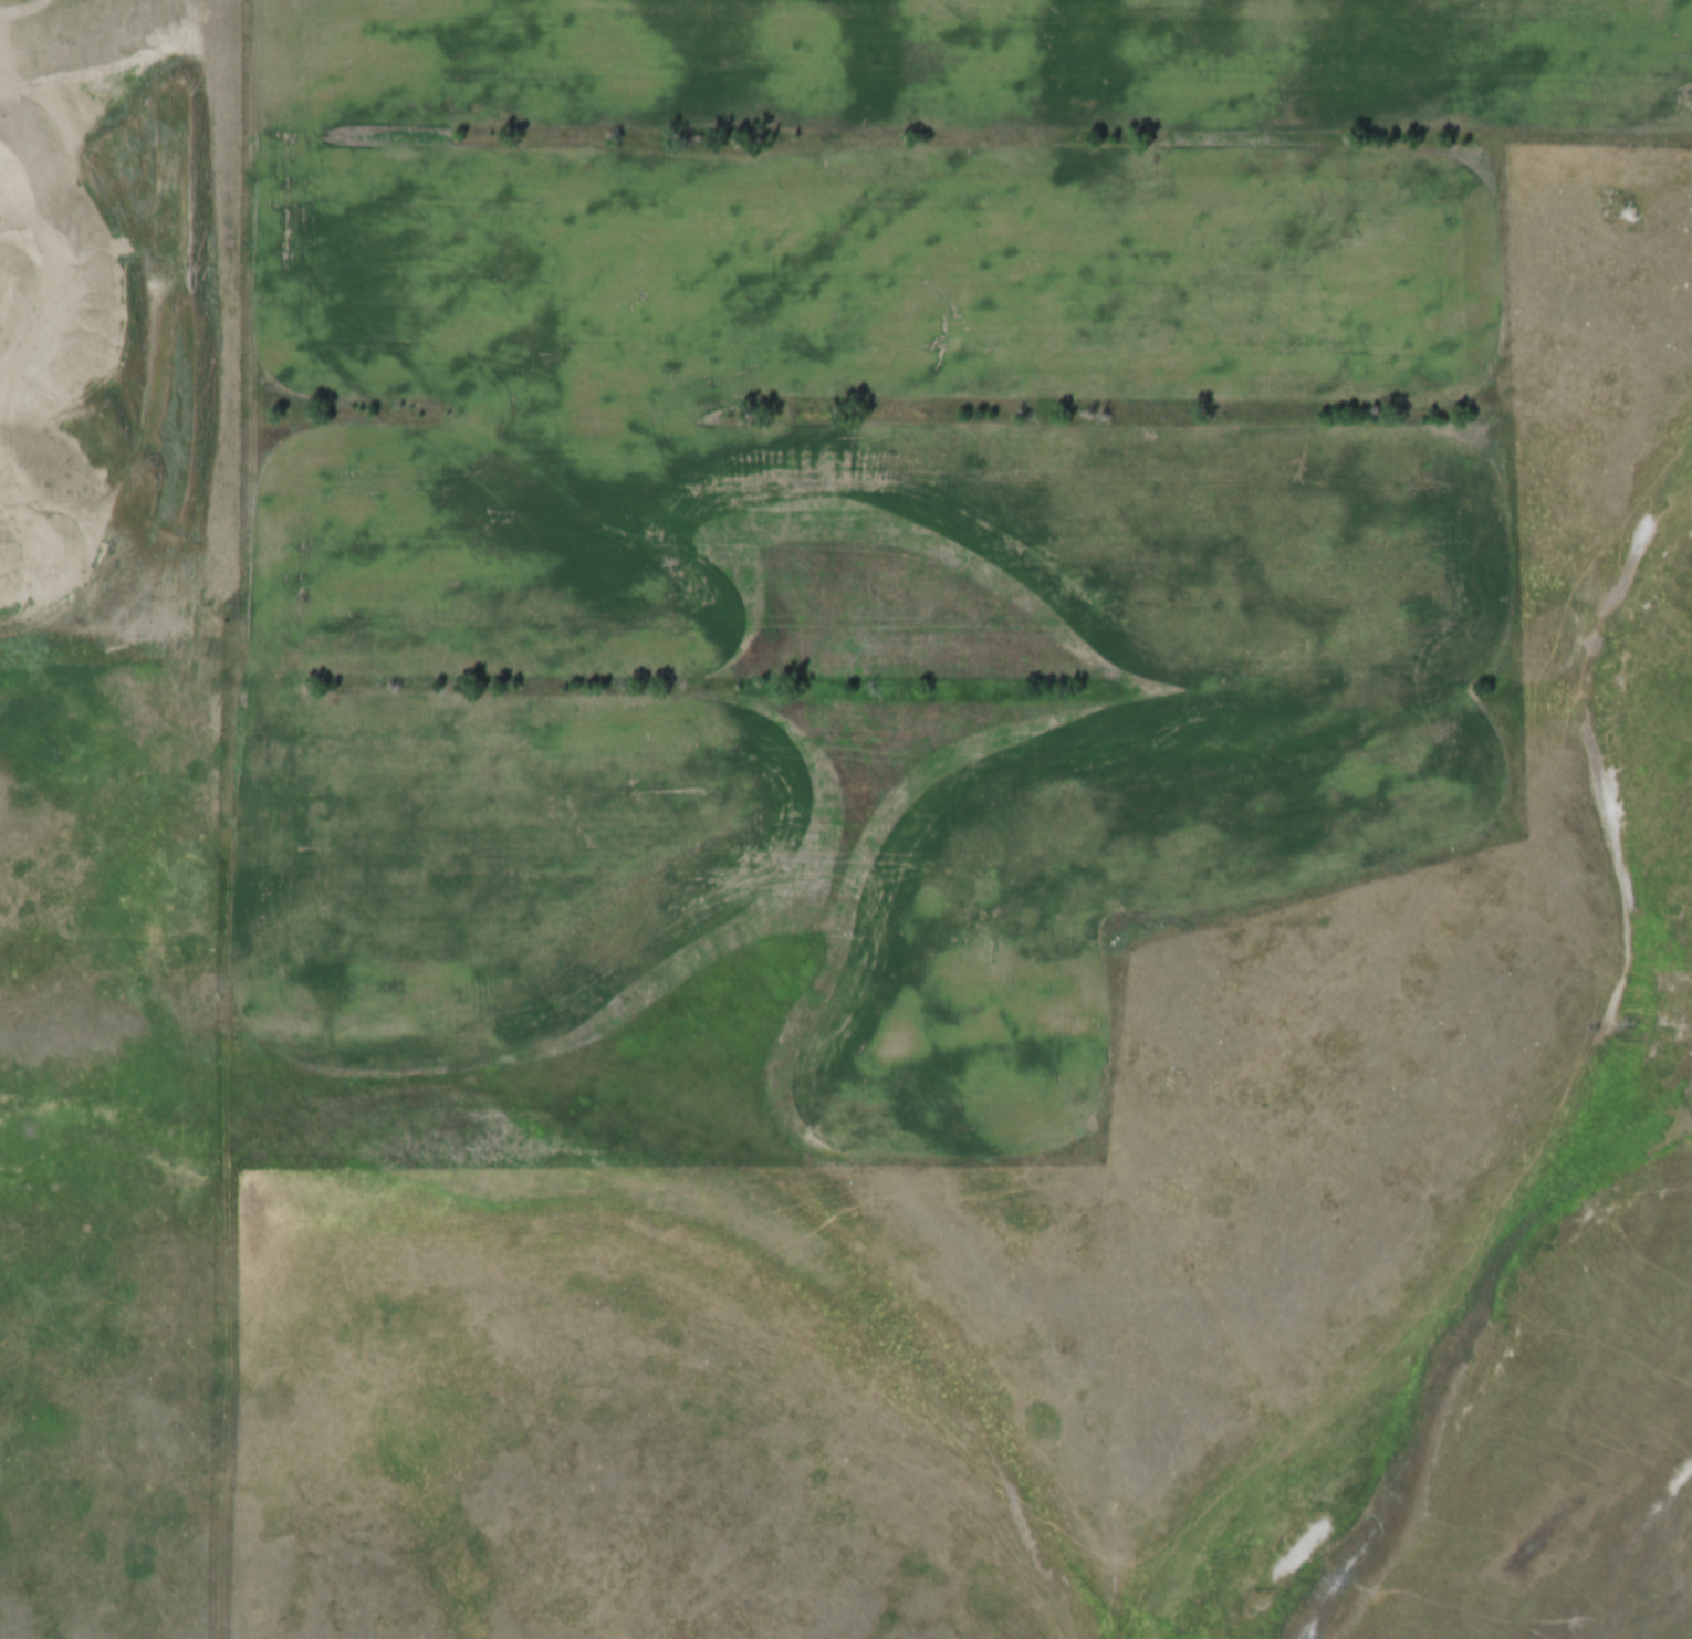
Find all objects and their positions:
quarry: (98, 321)
road: (236, 818)

